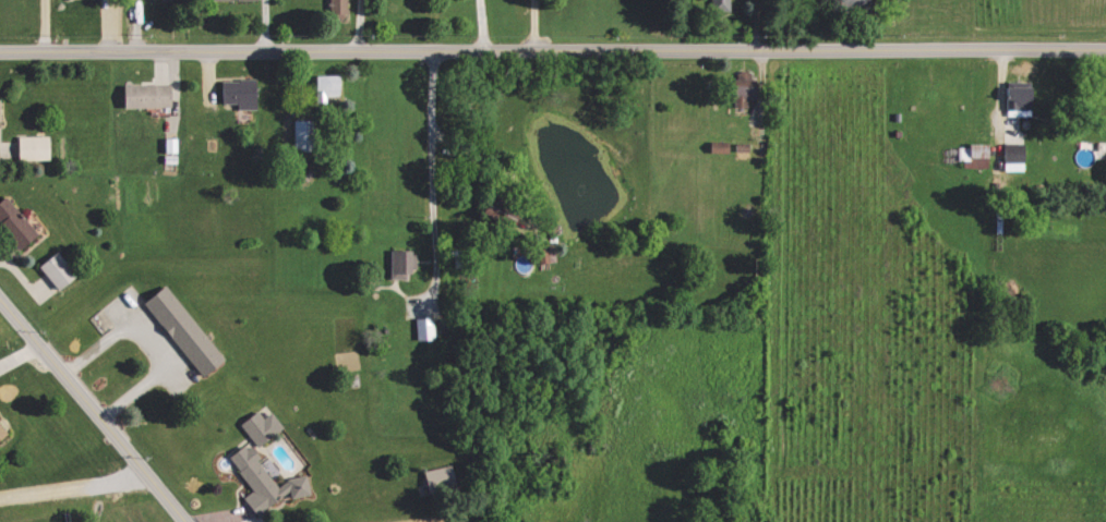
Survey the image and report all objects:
building: (236, 0)
building: (846, 3)
building: (716, 5)
building: (336, 7)
road: (41, 24)
road: (479, 24)
road: (536, 24)
road: (354, 25)
road: (553, 48)
road: (161, 63)
road: (301, 77)
building: (324, 87)
building: (740, 90)
building: (237, 94)
building: (143, 97)
building: (297, 135)
building: (168, 146)
building: (31, 148)
building: (971, 155)
building: (1012, 157)
road: (502, 172)
road: (433, 174)
building: (13, 224)
building: (543, 254)
building: (399, 260)
building: (53, 269)
building: (422, 328)
building: (180, 329)
road: (148, 342)
road: (91, 411)
building: (257, 426)
building: (0, 433)
building: (436, 477)
building: (262, 481)
road: (73, 487)
road: (237, 520)

